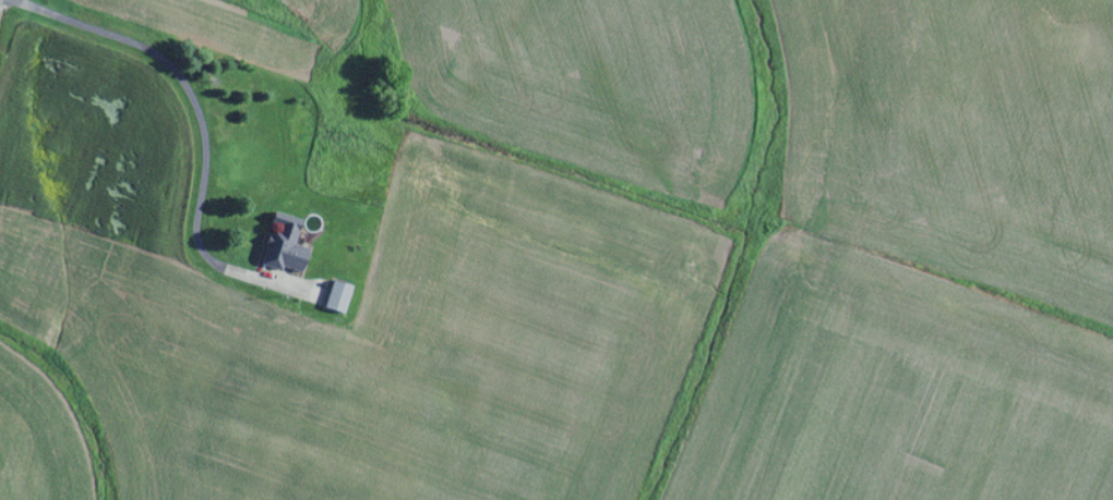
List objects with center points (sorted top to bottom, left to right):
building: (282, 245)
building: (335, 296)

